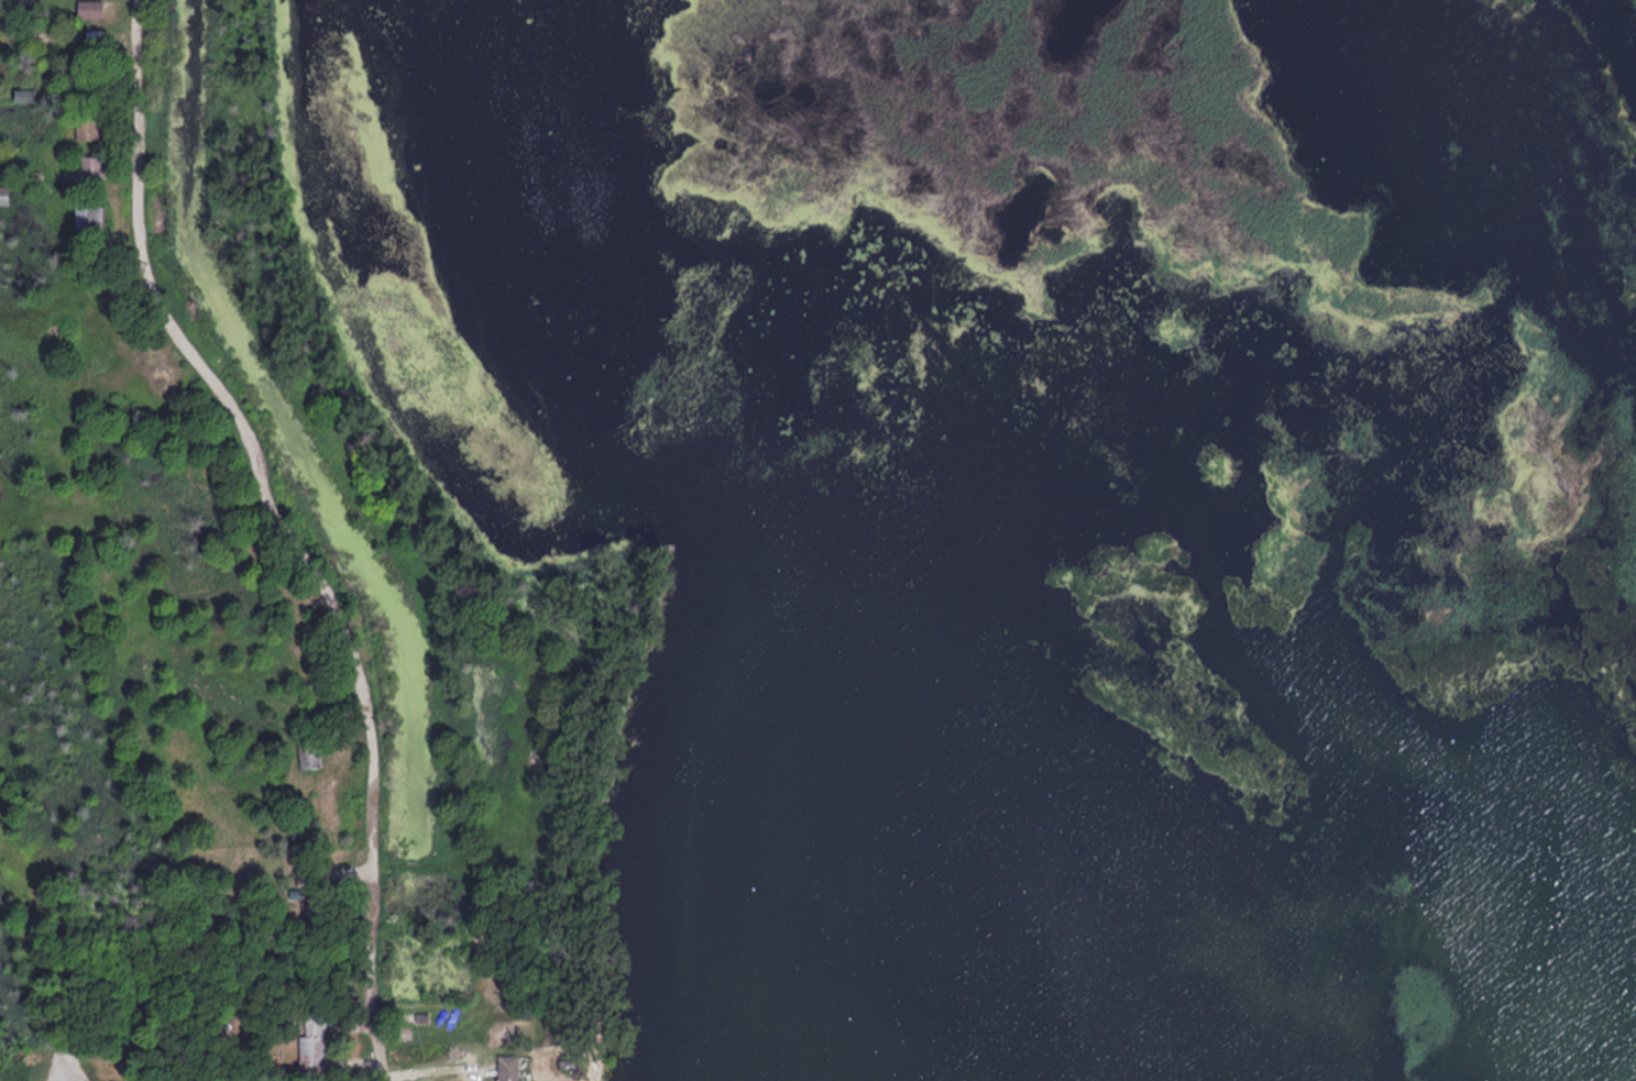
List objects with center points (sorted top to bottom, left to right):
building: (87, 9)
building: (20, 96)
building: (86, 124)
building: (88, 166)
building: (3, 195)
building: (83, 216)
road: (288, 528)
road: (541, 660)
building: (307, 752)
road: (449, 871)
building: (309, 1044)
building: (505, 1067)

